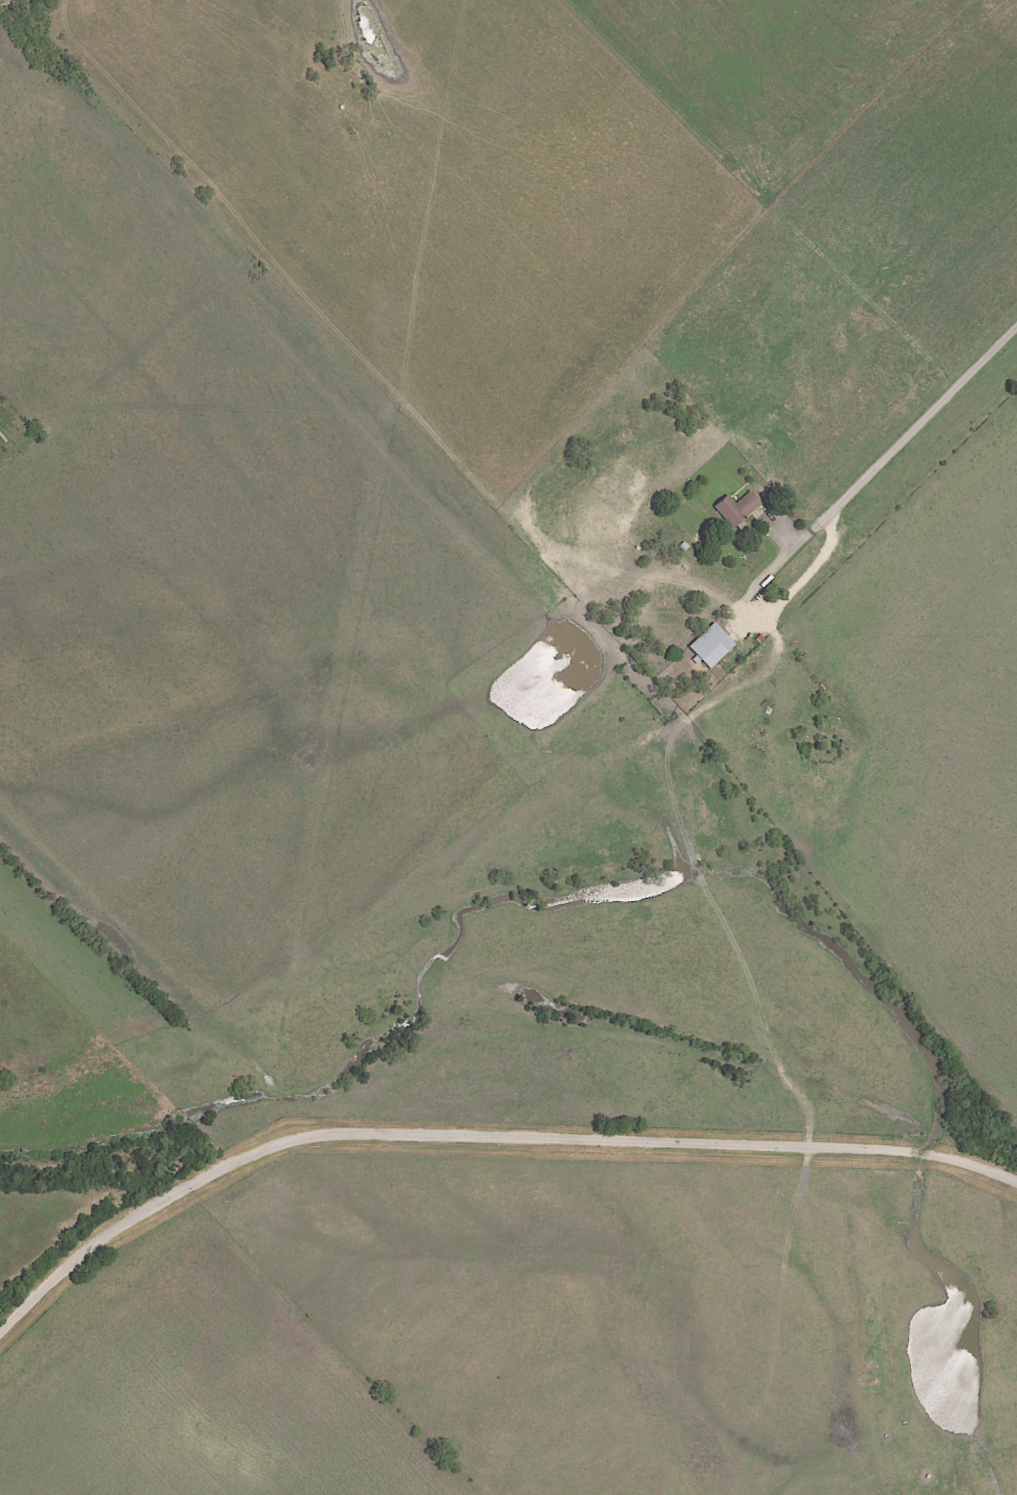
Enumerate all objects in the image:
road: (920, 424)
building: (736, 508)
road: (751, 618)
building: (710, 645)
road: (479, 1138)

